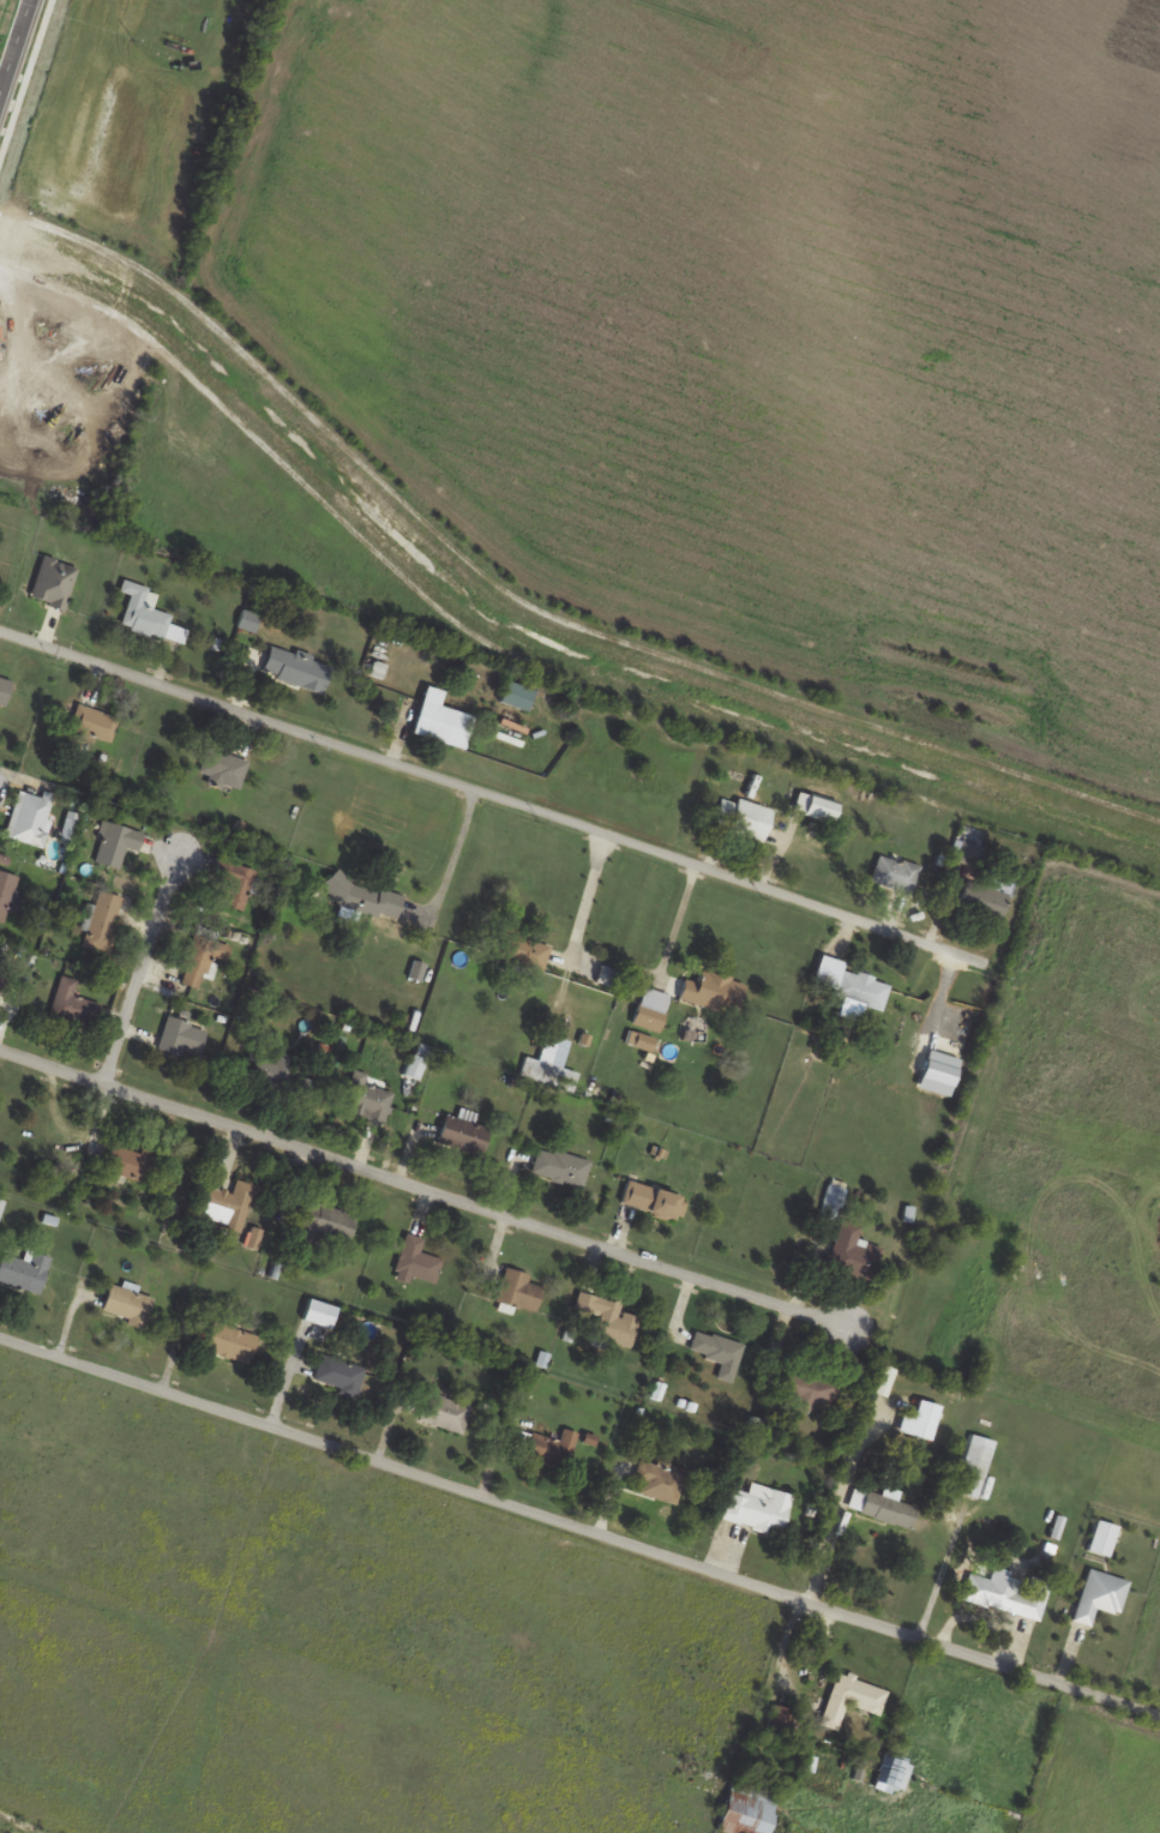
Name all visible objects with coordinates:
road: (17, 50)
building: (54, 583)
building: (144, 612)
building: (296, 669)
building: (5, 691)
building: (440, 721)
building: (95, 723)
building: (223, 768)
road: (485, 797)
building: (816, 807)
building: (31, 818)
building: (744, 818)
building: (116, 845)
building: (967, 854)
road: (462, 866)
building: (895, 875)
building: (232, 887)
building: (6, 893)
road: (585, 895)
building: (982, 902)
road: (674, 921)
building: (103, 922)
building: (524, 951)
building: (203, 961)
road: (144, 970)
building: (5, 976)
building: (861, 991)
building: (715, 992)
building: (72, 1005)
building: (651, 1010)
building: (182, 1038)
building: (551, 1063)
building: (276, 1072)
building: (363, 1098)
building: (463, 1135)
building: (133, 1164)
building: (560, 1168)
road: (423, 1188)
building: (653, 1202)
building: (227, 1206)
building: (326, 1225)
building: (853, 1255)
building: (417, 1261)
building: (24, 1272)
building: (518, 1291)
building: (128, 1305)
building: (319, 1314)
building: (611, 1322)
building: (230, 1344)
building: (719, 1353)
building: (338, 1376)
building: (807, 1388)
building: (445, 1413)
building: (897, 1423)
building: (549, 1449)
building: (976, 1465)
building: (657, 1482)
building: (756, 1509)
building: (882, 1509)
road: (579, 1527)
building: (1101, 1539)
road: (822, 1550)
road: (938, 1576)
building: (1008, 1594)
building: (1099, 1598)
building: (849, 1700)
building: (890, 1774)
building: (746, 1809)

